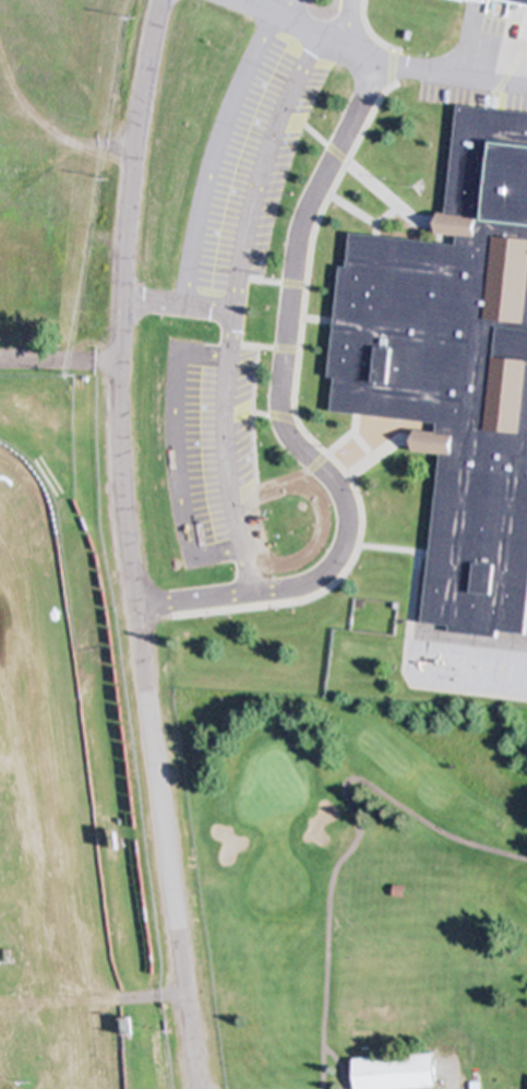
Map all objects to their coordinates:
building: (465, 2)
building: (514, 2)
road: (347, 25)
street lamp: (424, 55)
parking lot: (481, 62)
road: (373, 63)
building: (525, 68)
street lamp: (322, 118)
road: (215, 144)
parking lot: (245, 167)
street lamp: (382, 178)
street lamp: (271, 276)
road: (175, 305)
road: (230, 310)
street lamp: (261, 353)
road: (59, 359)
building: (454, 368)
road: (295, 390)
road: (278, 421)
street lamp: (322, 439)
street lamp: (257, 446)
parking lot: (209, 454)
building: (46, 478)
street lamp: (364, 494)
street lamp: (266, 511)
street lamp: (287, 532)
road: (125, 545)
street lamp: (355, 567)
street lamp: (291, 611)
street lamp: (227, 619)
building: (526, 689)
park: (270, 774)
park: (351, 886)
building: (392, 1073)

